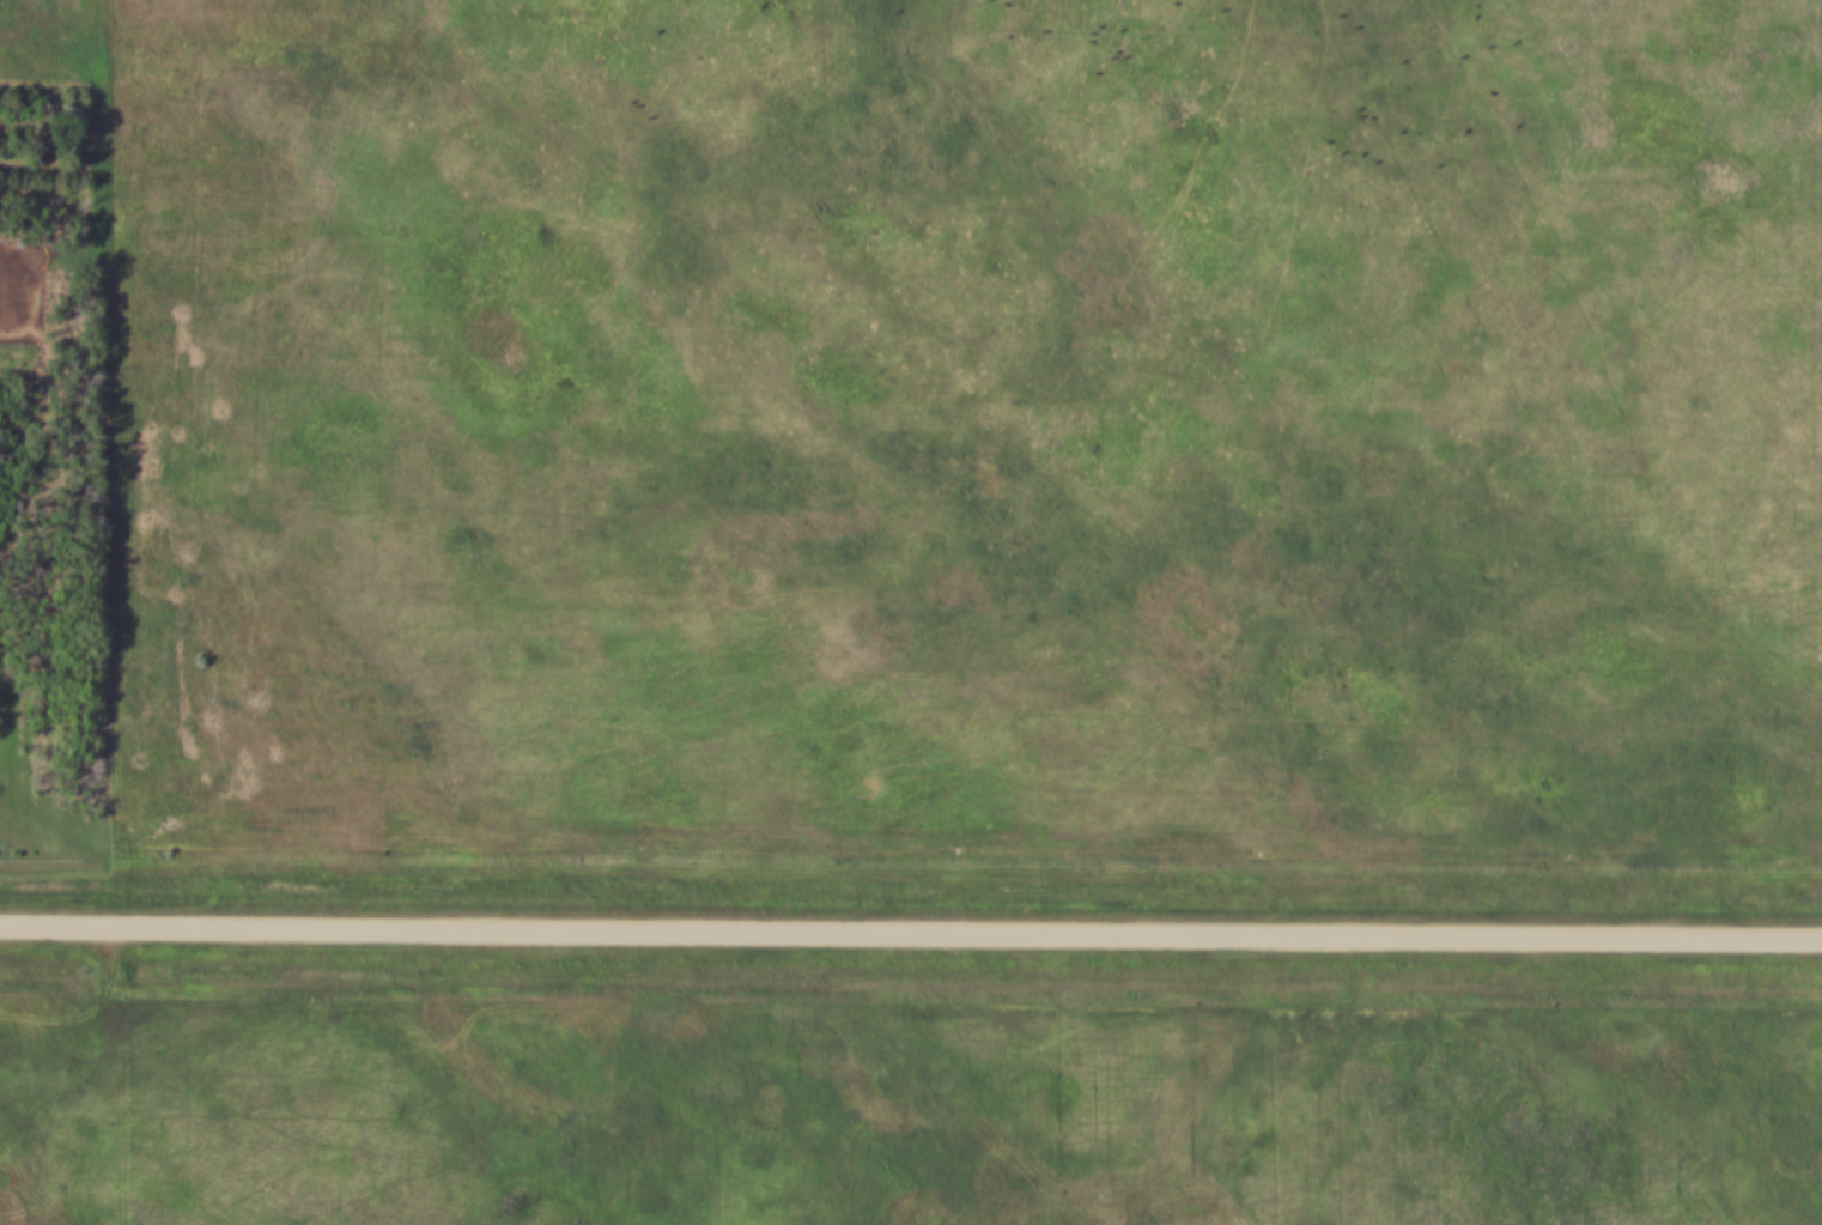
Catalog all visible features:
road: (910, 927)

